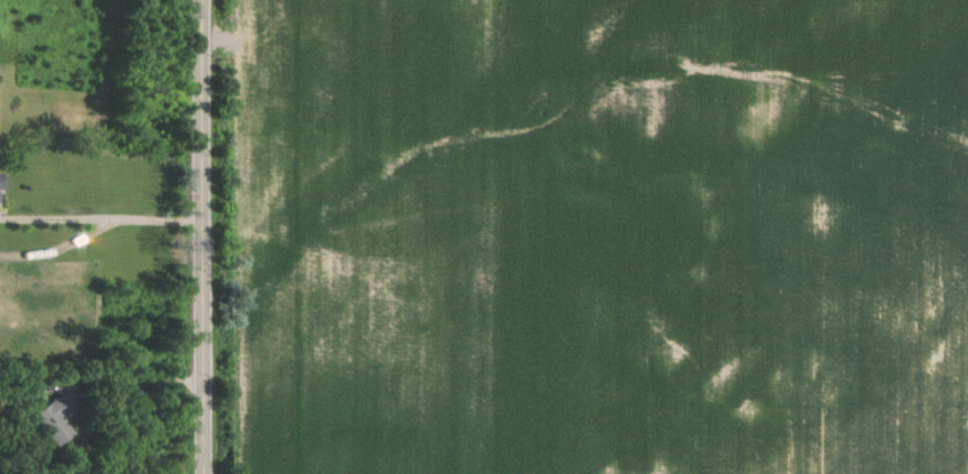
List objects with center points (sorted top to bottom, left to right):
building: (0, 180)
road: (198, 237)
building: (50, 418)

